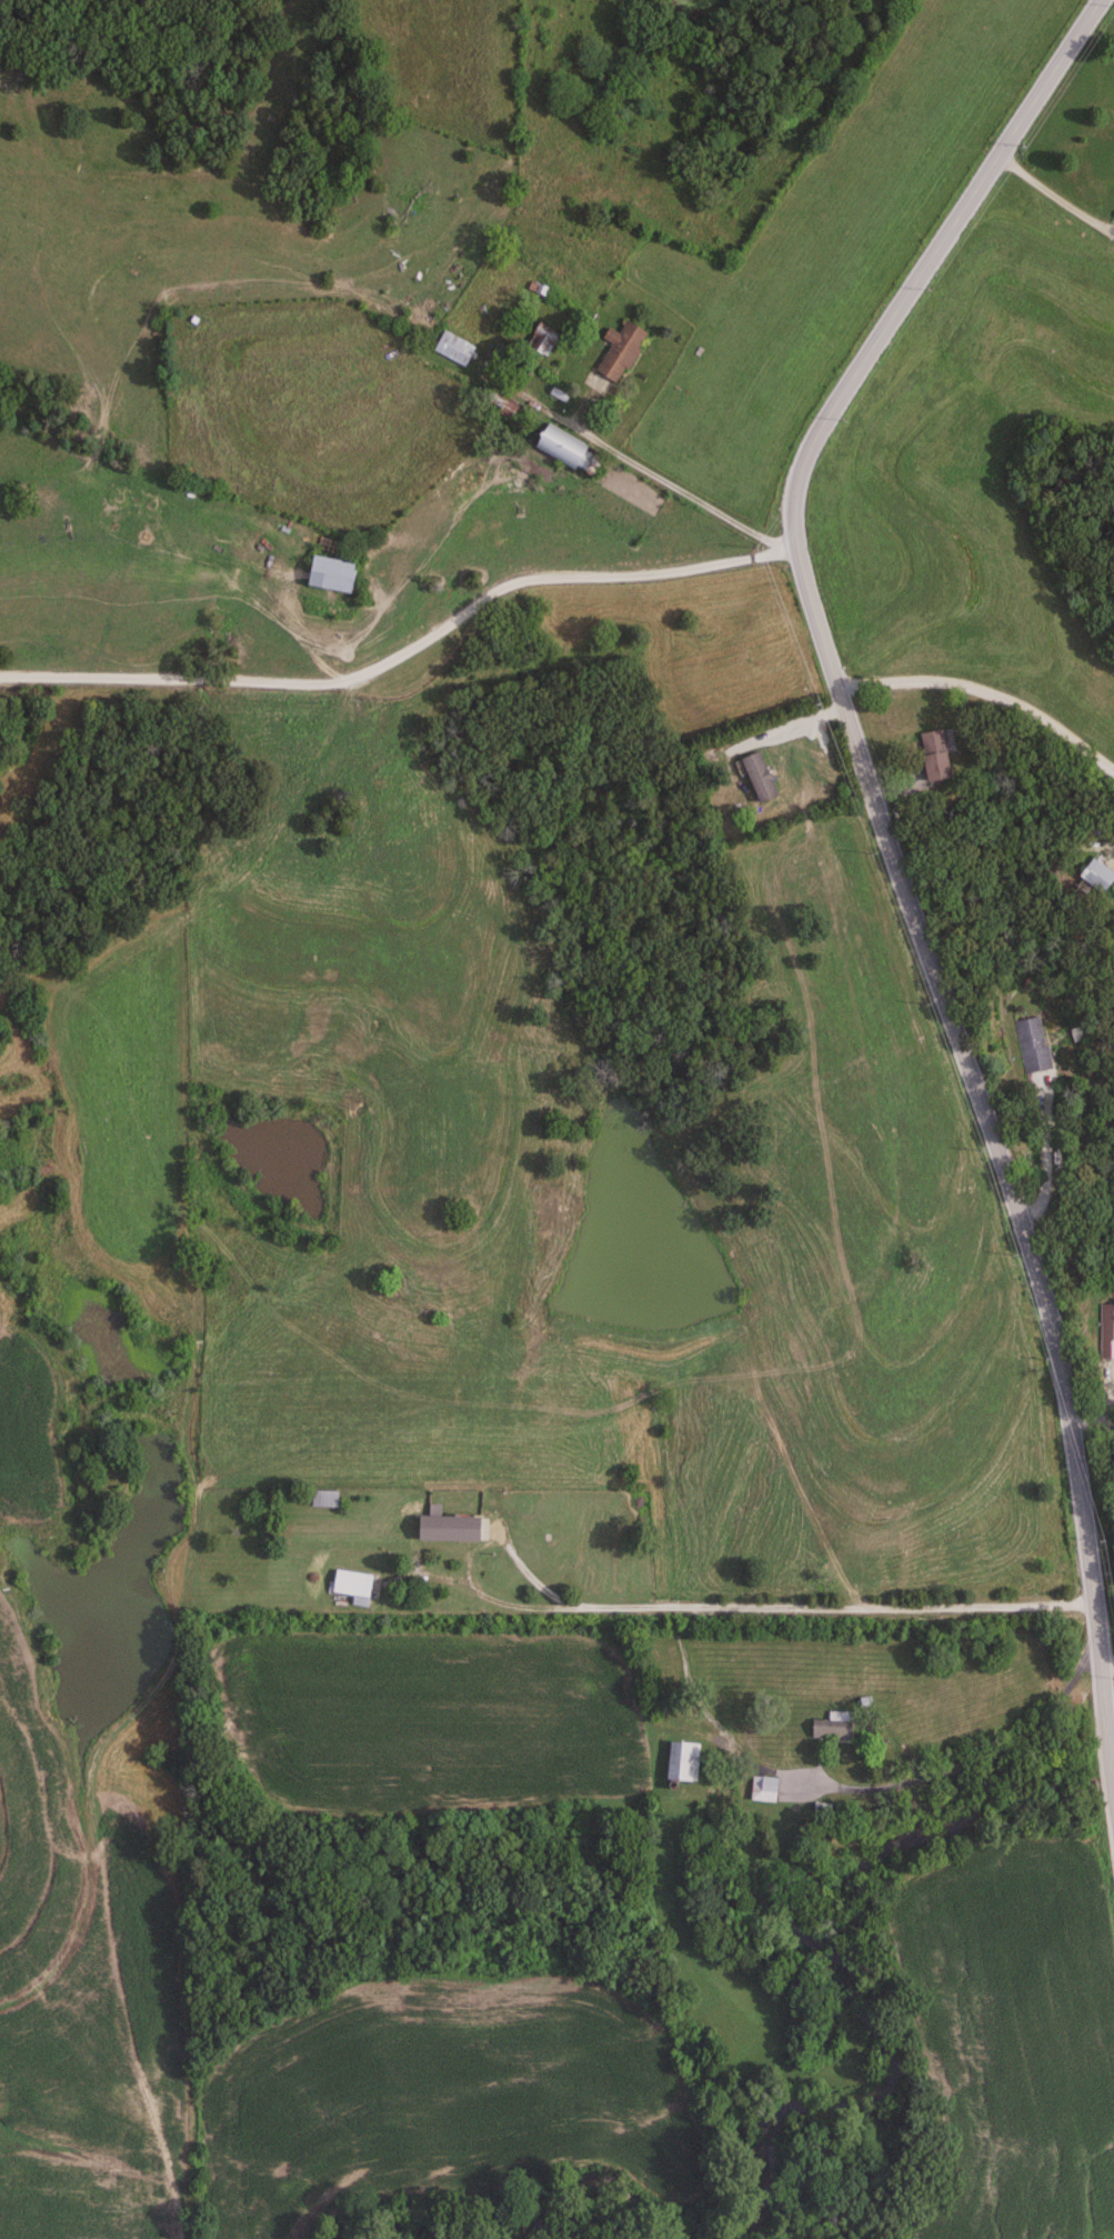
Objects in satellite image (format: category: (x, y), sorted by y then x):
road: (1055, 196)
building: (543, 344)
building: (455, 350)
building: (622, 352)
building: (502, 361)
building: (566, 450)
road: (646, 468)
building: (332, 576)
road: (408, 649)
road: (987, 693)
building: (937, 757)
building: (761, 778)
road: (896, 868)
building: (1098, 877)
building: (1030, 1044)
building: (1105, 1330)
building: (325, 1499)
building: (442, 1529)
building: (353, 1585)
road: (696, 1609)
building: (829, 1727)
building: (678, 1762)
road: (945, 1769)
building: (759, 1789)
river: (1097, 1795)
river: (853, 1978)
river: (576, 2220)
river: (382, 2232)

